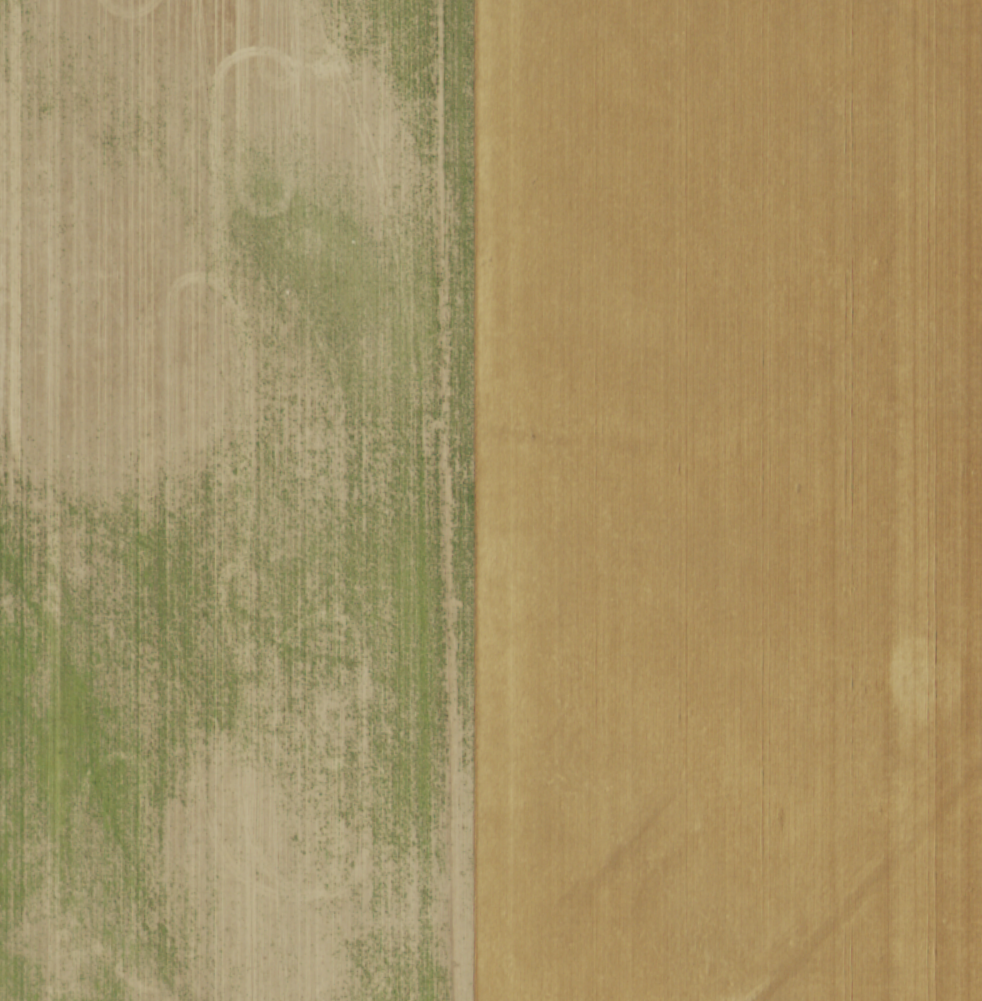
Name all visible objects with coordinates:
crop: (491, 500)

